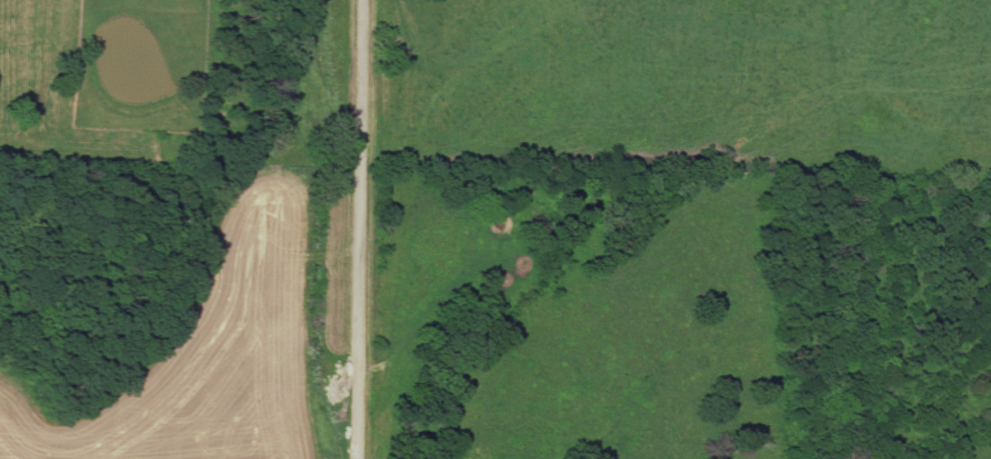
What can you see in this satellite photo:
road: (360, 229)

